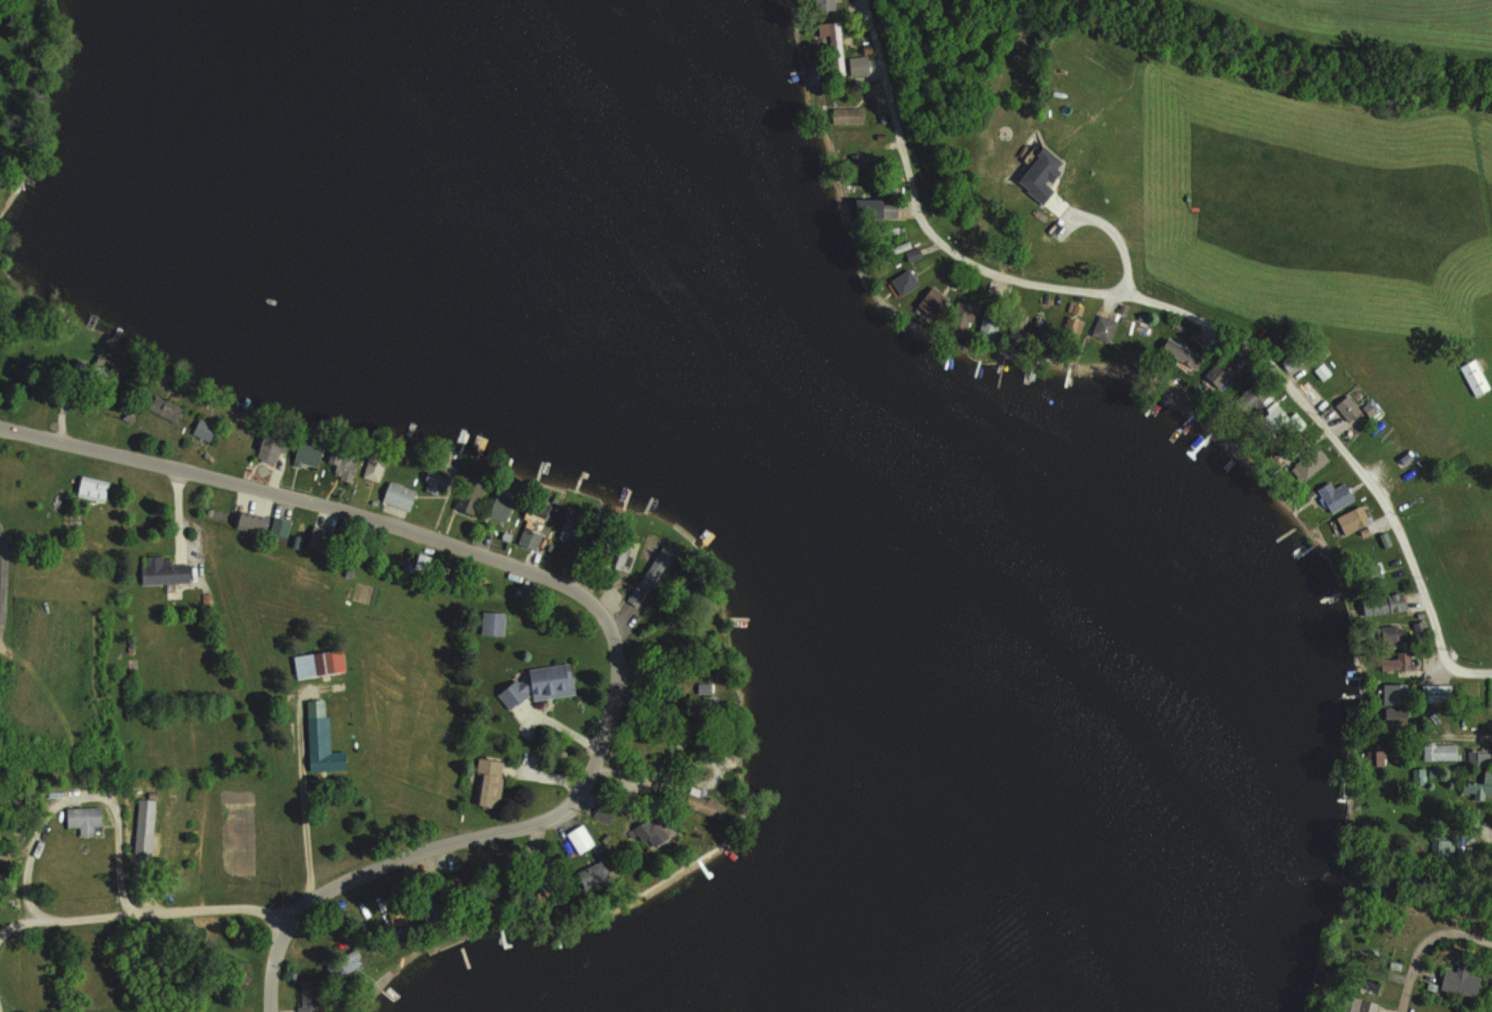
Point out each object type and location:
building: (825, 4)
building: (835, 44)
building: (847, 115)
building: (876, 208)
building: (906, 282)
building: (935, 301)
building: (963, 314)
road: (1186, 320)
building: (990, 324)
building: (1074, 327)
building: (1104, 329)
building: (1185, 349)
building: (1475, 376)
building: (1256, 395)
building: (164, 408)
building: (1348, 408)
building: (1274, 415)
building: (205, 429)
building: (272, 448)
building: (308, 453)
building: (341, 462)
building: (1310, 462)
building: (375, 465)
building: (436, 482)
building: (94, 488)
building: (400, 495)
building: (471, 495)
building: (1336, 495)
building: (502, 505)
building: (1354, 519)
building: (253, 522)
building: (280, 526)
building: (573, 526)
building: (533, 527)
building: (624, 557)
building: (165, 570)
road: (596, 600)
building: (1385, 604)
building: (493, 623)
building: (1394, 632)
building: (1398, 660)
building: (320, 663)
building: (542, 684)
building: (1437, 692)
building: (1396, 693)
building: (1396, 716)
building: (323, 746)
building: (1439, 752)
building: (1381, 756)
building: (1478, 757)
building: (1419, 777)
building: (491, 782)
building: (1478, 785)
road: (68, 804)
building: (146, 815)
building: (85, 818)
building: (657, 829)
road: (307, 831)
building: (581, 838)
building: (1442, 847)
building: (596, 873)
building: (455, 895)
road: (144, 911)
building: (398, 916)
road: (1432, 956)
building: (1461, 981)
building: (309, 995)
building: (1359, 1004)

